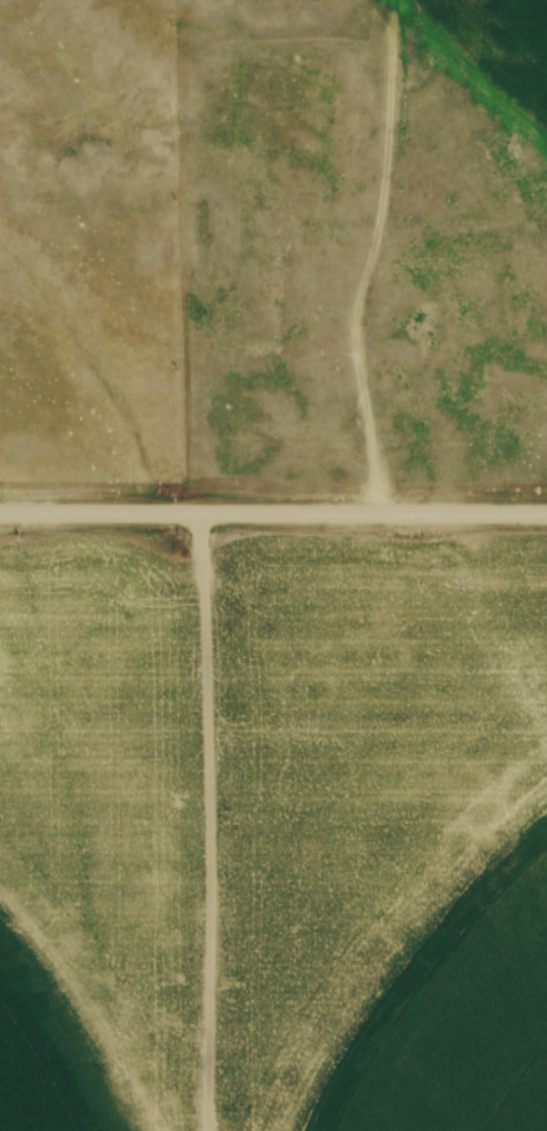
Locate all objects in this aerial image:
crop: (499, 46)
road: (273, 515)
crop: (273, 835)

